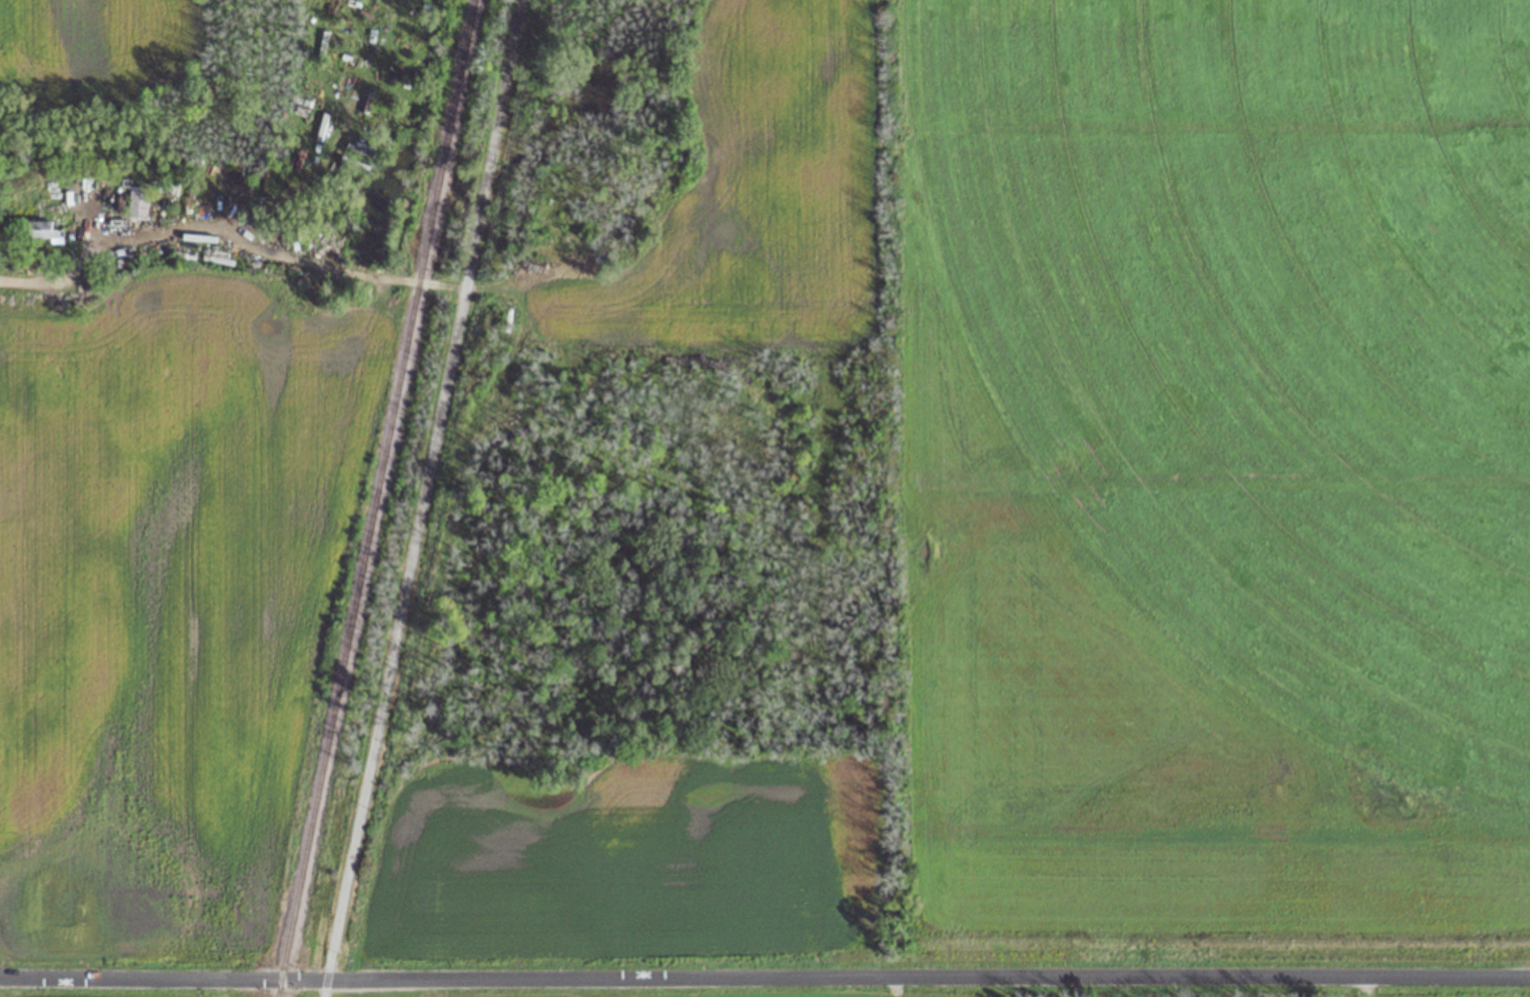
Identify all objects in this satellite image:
building: (137, 202)
building: (45, 230)
road: (227, 230)
railway: (373, 498)
road: (420, 498)
road: (764, 975)

